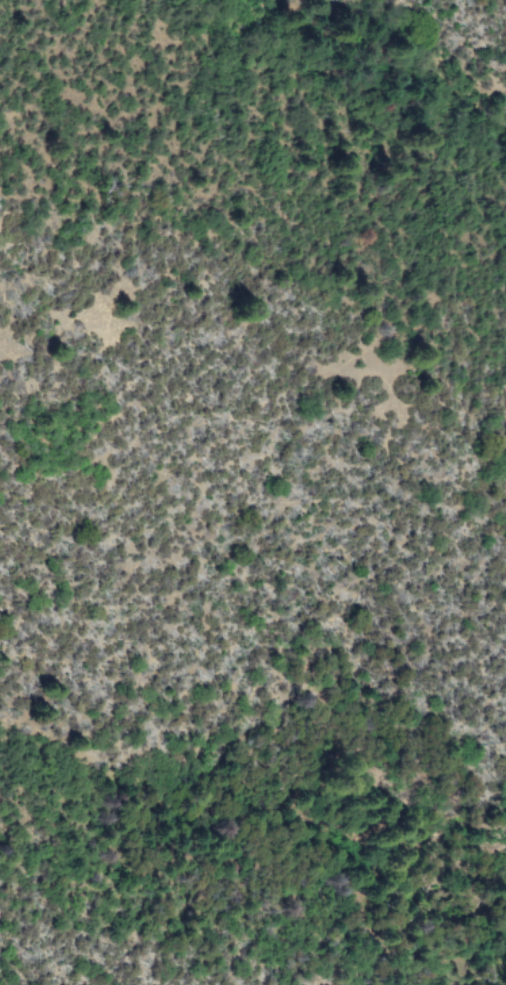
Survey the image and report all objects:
road: (360, 841)

